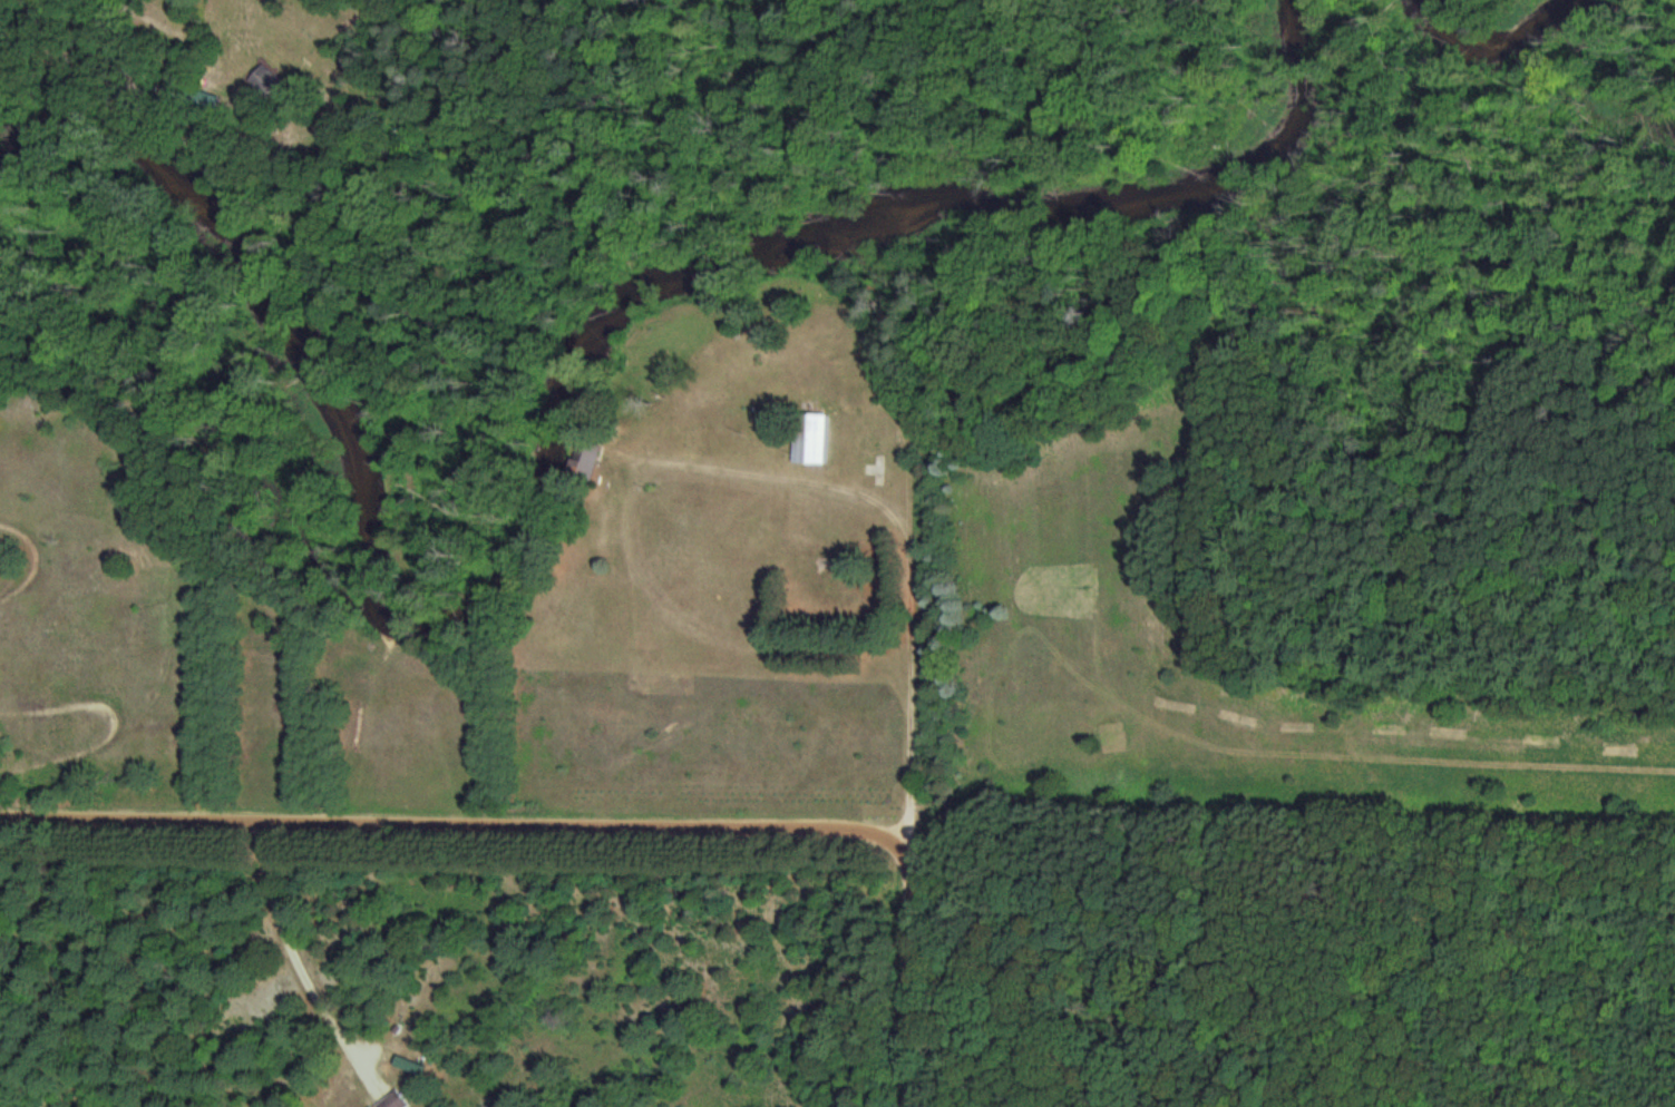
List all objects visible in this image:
river: (1492, 46)
river: (547, 438)
building: (810, 438)
building: (584, 458)
road: (629, 555)
road: (914, 594)
road: (913, 745)
road: (455, 823)
road: (912, 969)
building: (391, 1100)

